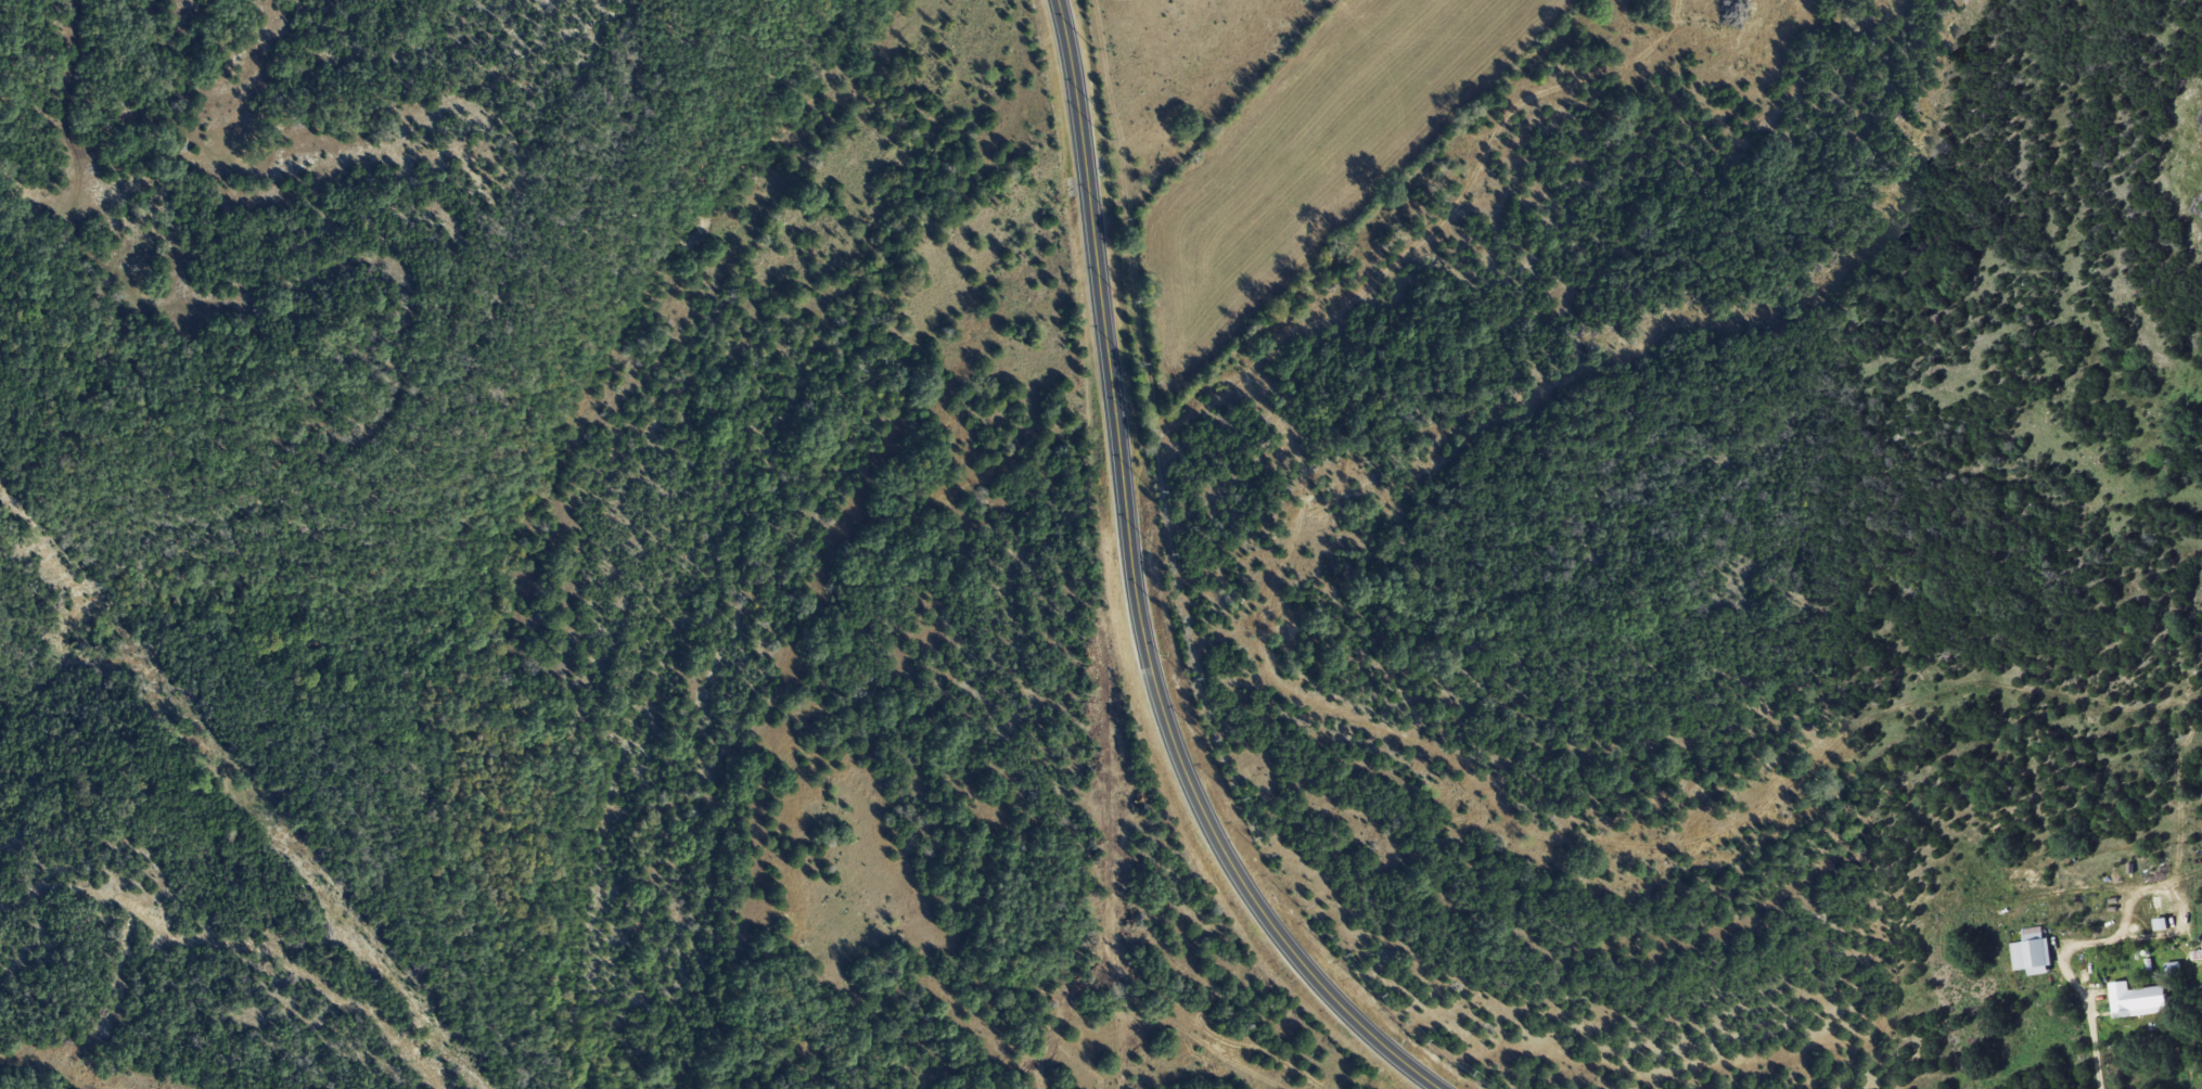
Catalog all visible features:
road: (138, 232)
road: (1137, 592)
building: (2032, 951)
road: (2074, 985)
building: (2137, 999)

